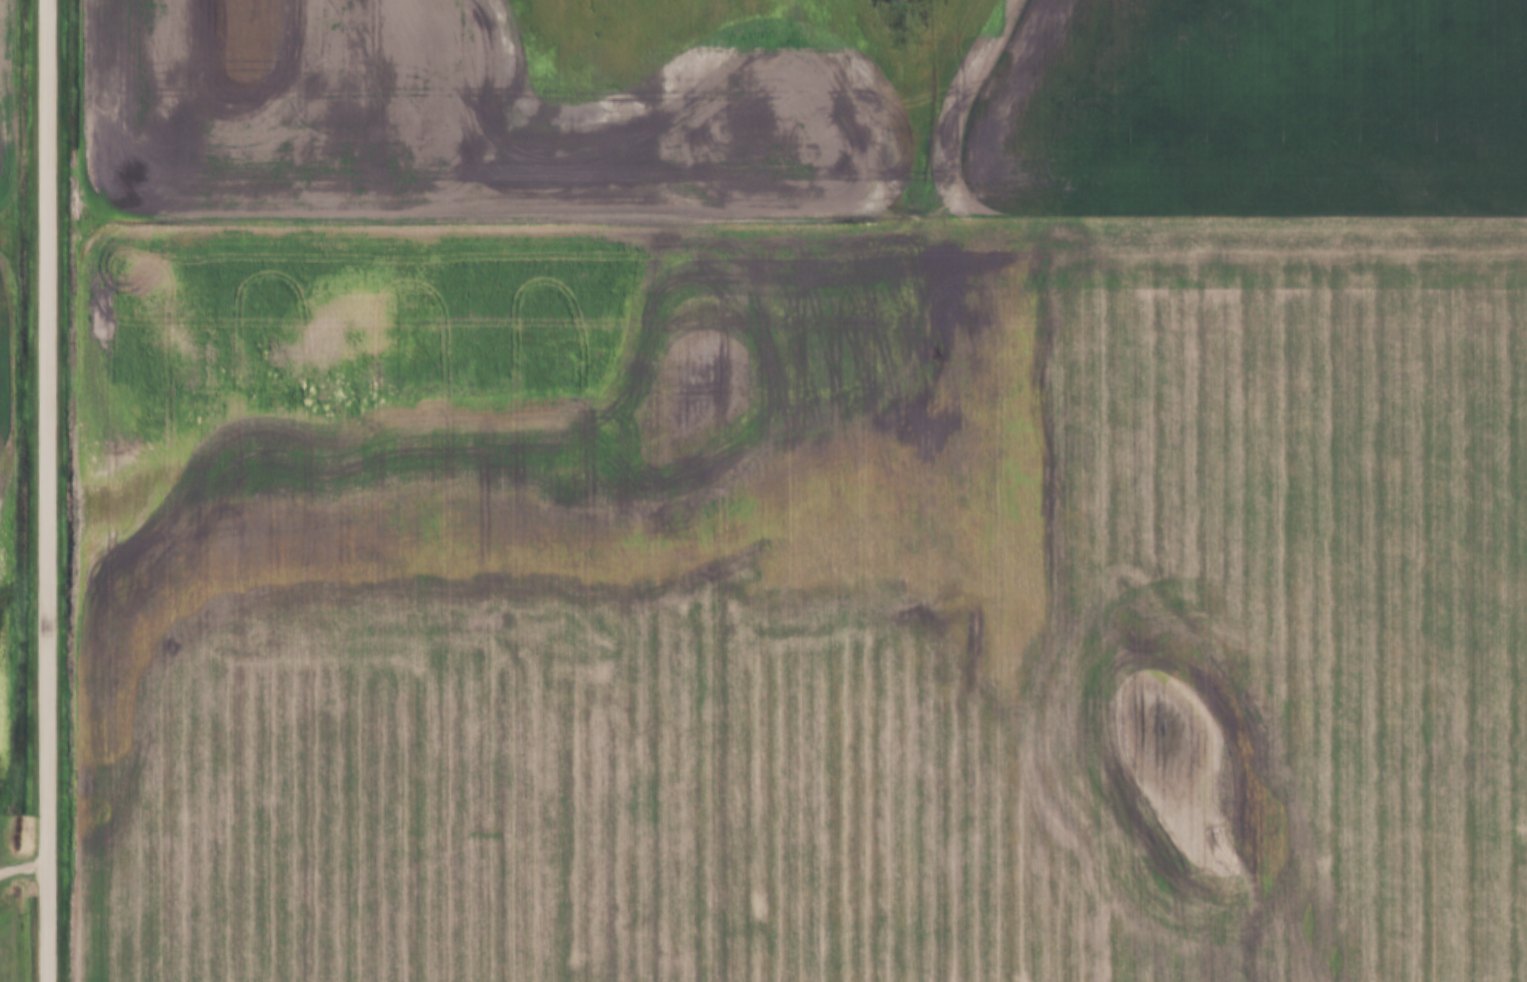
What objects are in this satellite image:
road: (47, 491)
road: (23, 866)

